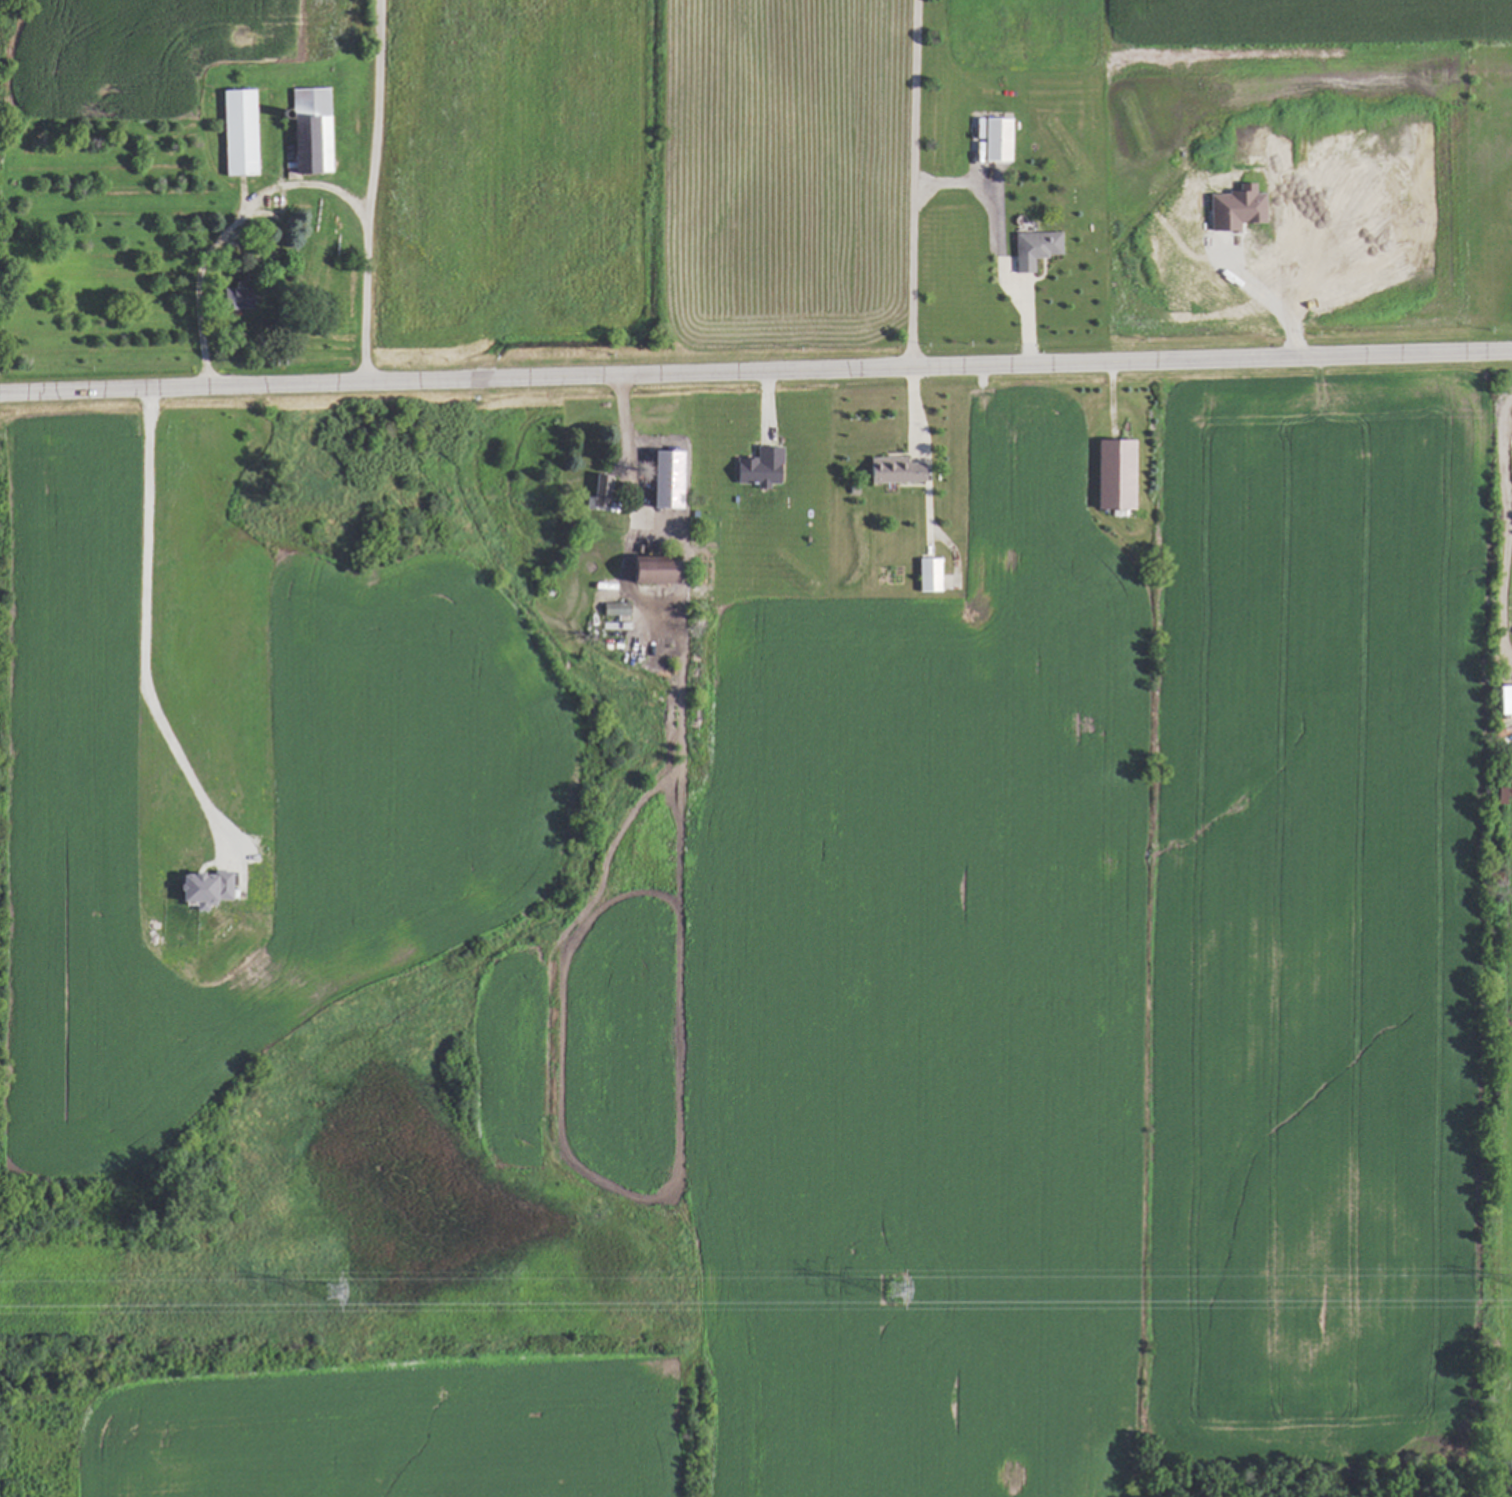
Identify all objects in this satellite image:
crop: (127, 51)
building: (310, 128)
building: (235, 131)
building: (996, 138)
building: (986, 179)
road: (917, 185)
road: (367, 192)
building: (1233, 208)
road: (225, 230)
building: (1032, 247)
road: (1002, 272)
road: (1270, 293)
building: (229, 298)
road: (756, 374)
road: (927, 453)
building: (756, 467)
road: (630, 470)
building: (891, 470)
building: (1111, 473)
building: (662, 479)
road: (1508, 530)
building: (645, 570)
building: (926, 574)
building: (613, 608)
road: (150, 634)
building: (1503, 699)
crop: (236, 777)
building: (201, 888)
crop: (1049, 1014)
power tower: (333, 1295)
power tower: (895, 1296)

